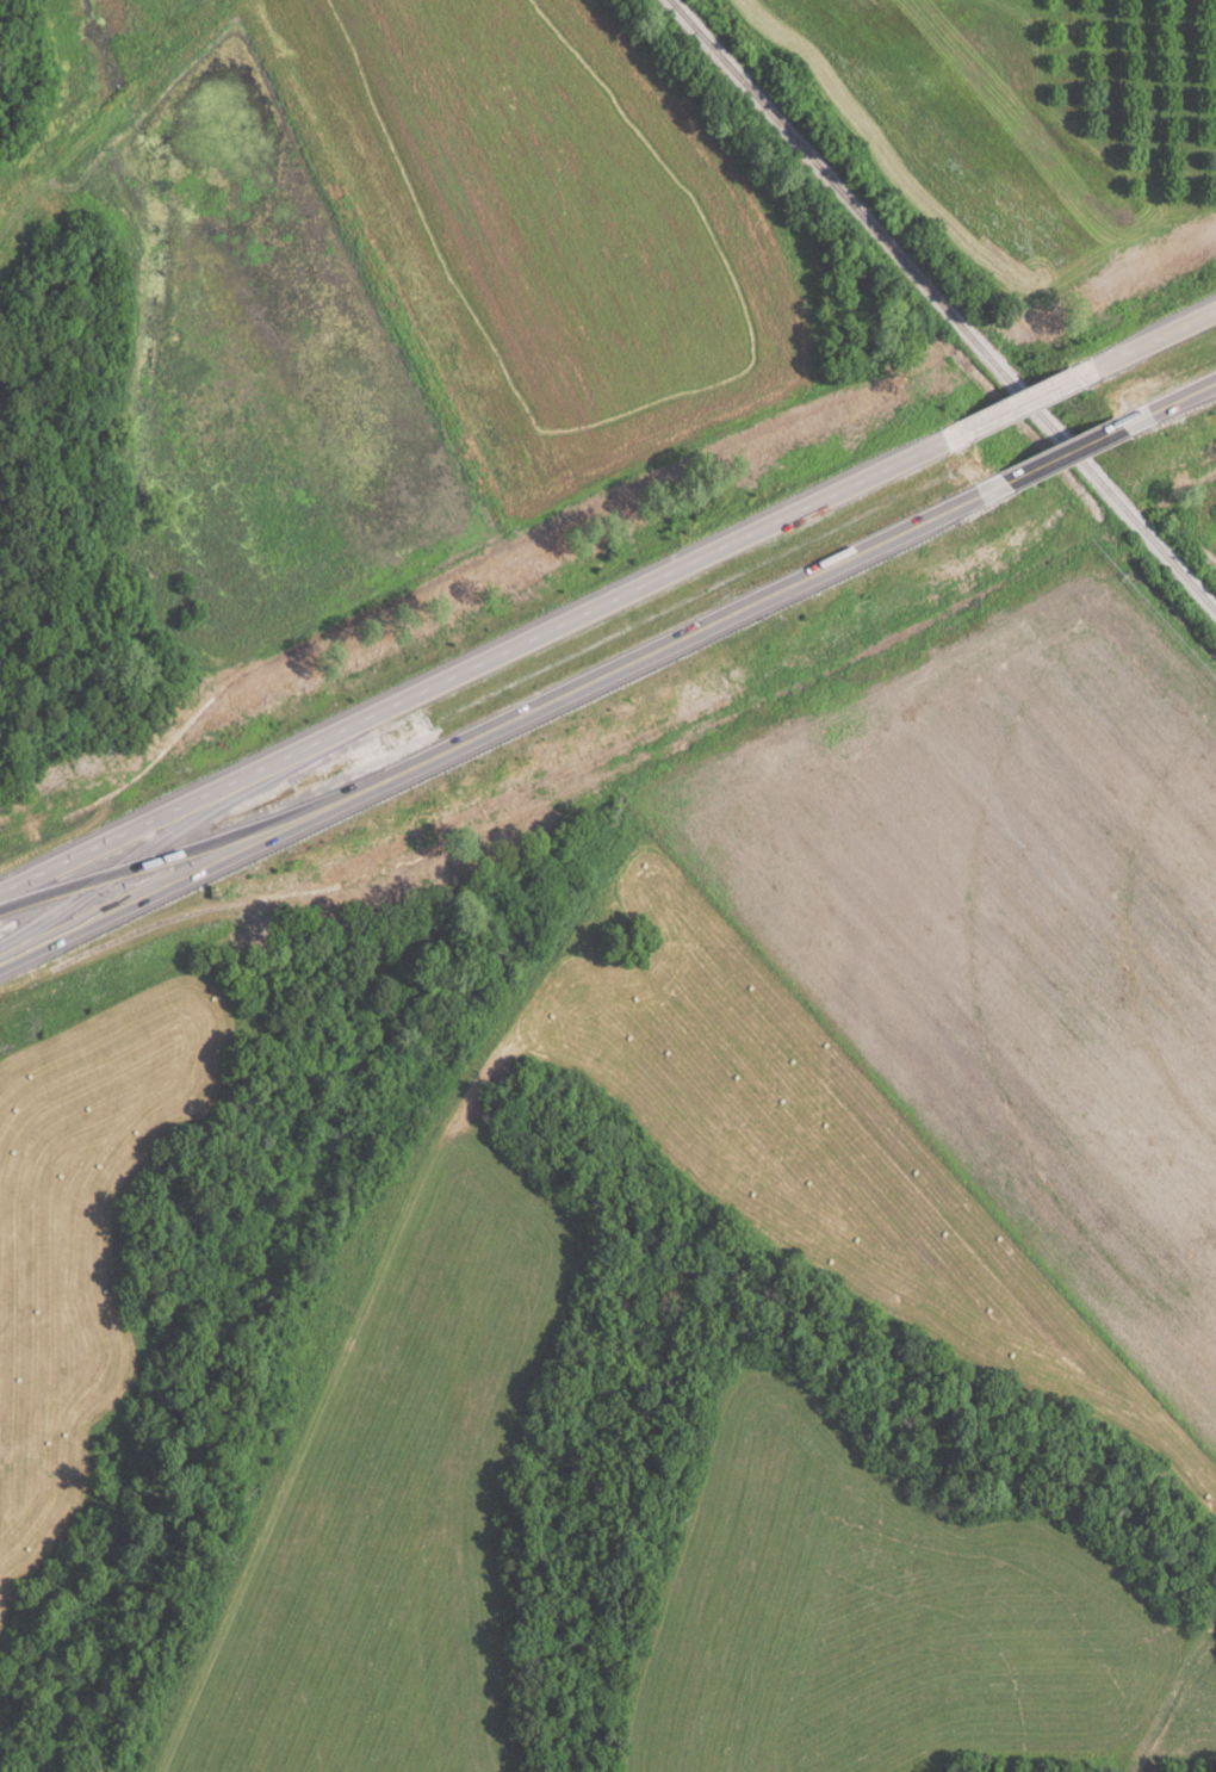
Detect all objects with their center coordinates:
railway: (945, 306)
road: (1141, 345)
road: (1017, 405)
road: (1168, 405)
road: (1066, 454)
road: (484, 665)
road: (505, 725)

